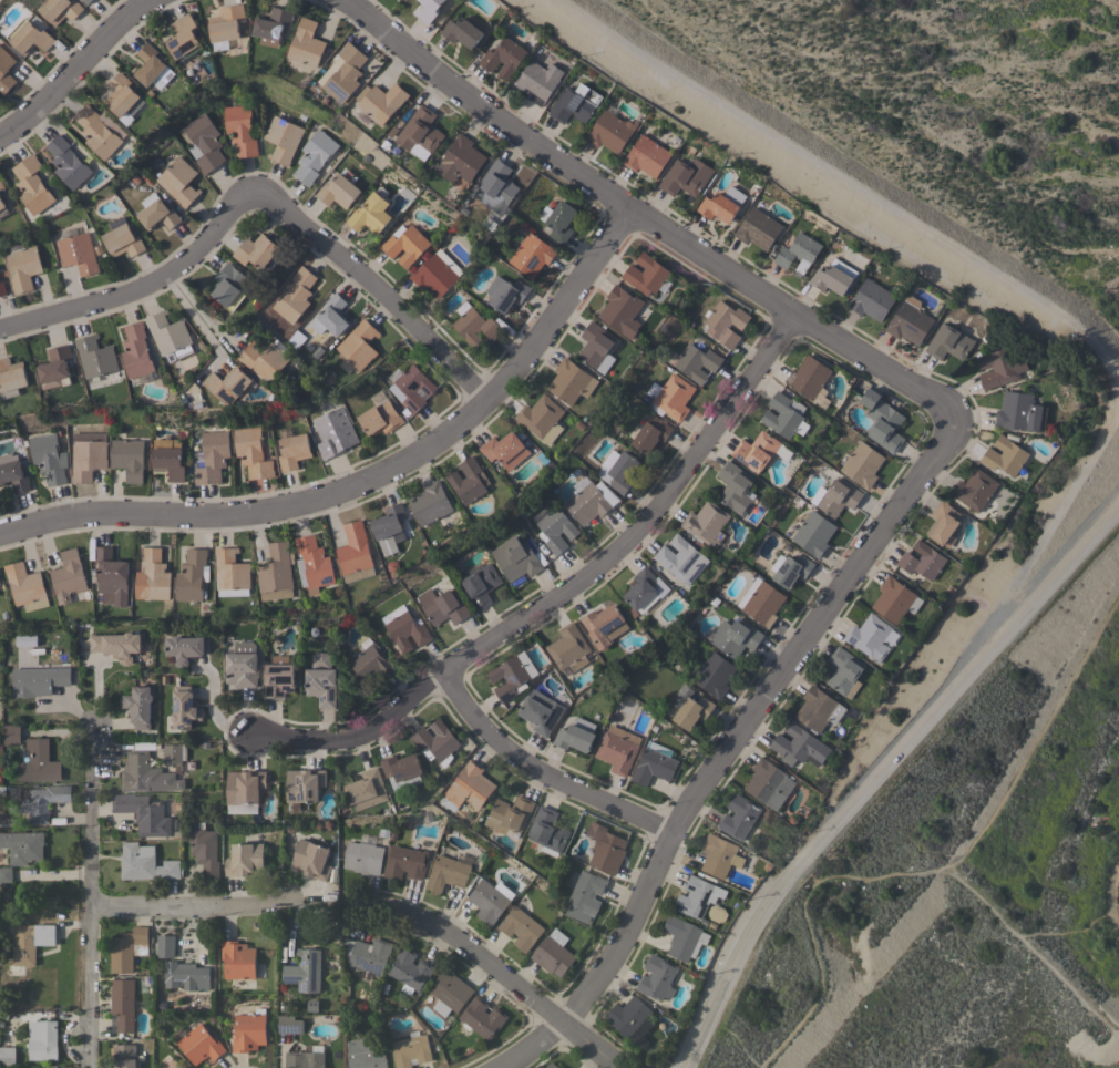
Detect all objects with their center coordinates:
building: (86, 1)
building: (60, 9)
building: (428, 9)
building: (227, 23)
building: (273, 24)
building: (461, 31)
building: (30, 34)
building: (184, 37)
building: (307, 43)
building: (503, 57)
building: (152, 65)
road: (76, 70)
building: (6, 71)
building: (343, 72)
building: (536, 81)
building: (123, 95)
building: (381, 101)
building: (574, 103)
building: (240, 129)
building: (610, 131)
building: (96, 132)
building: (420, 133)
building: (281, 138)
building: (204, 142)
building: (315, 155)
building: (646, 156)
building: (460, 160)
building: (68, 162)
building: (685, 176)
road: (845, 176)
building: (178, 181)
building: (2, 184)
building: (32, 184)
building: (497, 185)
building: (338, 191)
building: (721, 205)
building: (2, 207)
building: (156, 212)
building: (371, 214)
building: (561, 220)
road: (648, 220)
building: (758, 228)
building: (122, 238)
building: (405, 244)
building: (256, 250)
building: (78, 253)
building: (798, 253)
building: (531, 254)
building: (23, 267)
building: (437, 273)
building: (647, 274)
building: (833, 276)
building: (229, 285)
building: (2, 287)
road: (379, 287)
road: (146, 289)
building: (505, 292)
building: (295, 295)
building: (871, 299)
building: (622, 310)
building: (331, 315)
road: (192, 320)
building: (910, 321)
building: (723, 322)
building: (474, 324)
building: (168, 336)
building: (948, 342)
building: (357, 346)
building: (597, 347)
building: (136, 352)
building: (95, 356)
building: (265, 359)
building: (696, 361)
building: (1000, 366)
building: (55, 367)
building: (809, 376)
building: (11, 377)
building: (571, 381)
building: (228, 383)
building: (411, 387)
building: (674, 397)
building: (1020, 412)
building: (784, 415)
building: (379, 418)
building: (542, 418)
building: (882, 420)
building: (331, 425)
building: (648, 433)
building: (505, 449)
building: (292, 450)
building: (756, 450)
building: (251, 452)
building: (1004, 455)
building: (211, 456)
building: (48, 458)
building: (86, 458)
building: (127, 458)
building: (168, 462)
building: (863, 463)
building: (617, 470)
building: (13, 475)
road: (370, 477)
building: (468, 480)
building: (735, 487)
building: (974, 489)
building: (839, 496)
building: (589, 500)
building: (430, 502)
building: (706, 523)
building: (943, 523)
building: (389, 527)
building: (554, 527)
building: (813, 533)
building: (355, 553)
building: (515, 557)
building: (681, 558)
building: (921, 559)
road: (1067, 563)
building: (312, 564)
building: (790, 568)
building: (276, 572)
building: (230, 573)
building: (152, 575)
building: (192, 575)
building: (68, 576)
building: (111, 576)
building: (479, 584)
building: (25, 586)
building: (644, 589)
road: (566, 591)
building: (895, 599)
building: (761, 600)
building: (442, 604)
building: (604, 625)
building: (404, 628)
building: (871, 636)
building: (735, 637)
building: (24, 639)
building: (116, 645)
building: (568, 647)
building: (185, 648)
building: (370, 663)
building: (242, 664)
building: (843, 669)
building: (715, 674)
building: (278, 676)
building: (509, 677)
building: (321, 679)
building: (38, 680)
building: (137, 706)
building: (184, 707)
building: (818, 708)
building: (692, 710)
building: (540, 711)
building: (11, 735)
building: (576, 735)
building: (437, 741)
building: (799, 746)
road: (727, 747)
building: (657, 749)
building: (617, 750)
building: (172, 753)
building: (39, 762)
building: (653, 766)
building: (402, 770)
building: (146, 774)
road: (543, 774)
road: (873, 778)
building: (304, 783)
building: (769, 783)
building: (245, 785)
building: (468, 787)
building: (367, 789)
building: (41, 800)
building: (143, 813)
building: (509, 814)
building: (739, 815)
building: (547, 829)
building: (22, 846)
building: (605, 848)
building: (204, 849)
building: (719, 855)
building: (363, 858)
building: (311, 859)
building: (245, 860)
building: (404, 862)
building: (145, 863)
road: (935, 869)
building: (446, 872)
building: (4, 874)
building: (586, 892)
road: (91, 895)
building: (697, 896)
building: (487, 901)
road: (189, 906)
building: (521, 927)
building: (684, 937)
building: (29, 941)
building: (165, 945)
building: (127, 948)
building: (553, 953)
building: (367, 954)
building: (237, 959)
building: (410, 968)
building: (305, 969)
road: (500, 969)
building: (186, 975)
building: (657, 977)
building: (449, 993)
building: (123, 1003)
road: (706, 1003)
building: (627, 1015)
building: (481, 1017)
building: (288, 1023)
building: (248, 1031)
building: (43, 1041)
building: (199, 1043)
building: (410, 1050)
building: (365, 1055)
building: (7, 1056)
building: (123, 1056)
building: (304, 1059)
building: (551, 1066)
building: (561, 1067)

